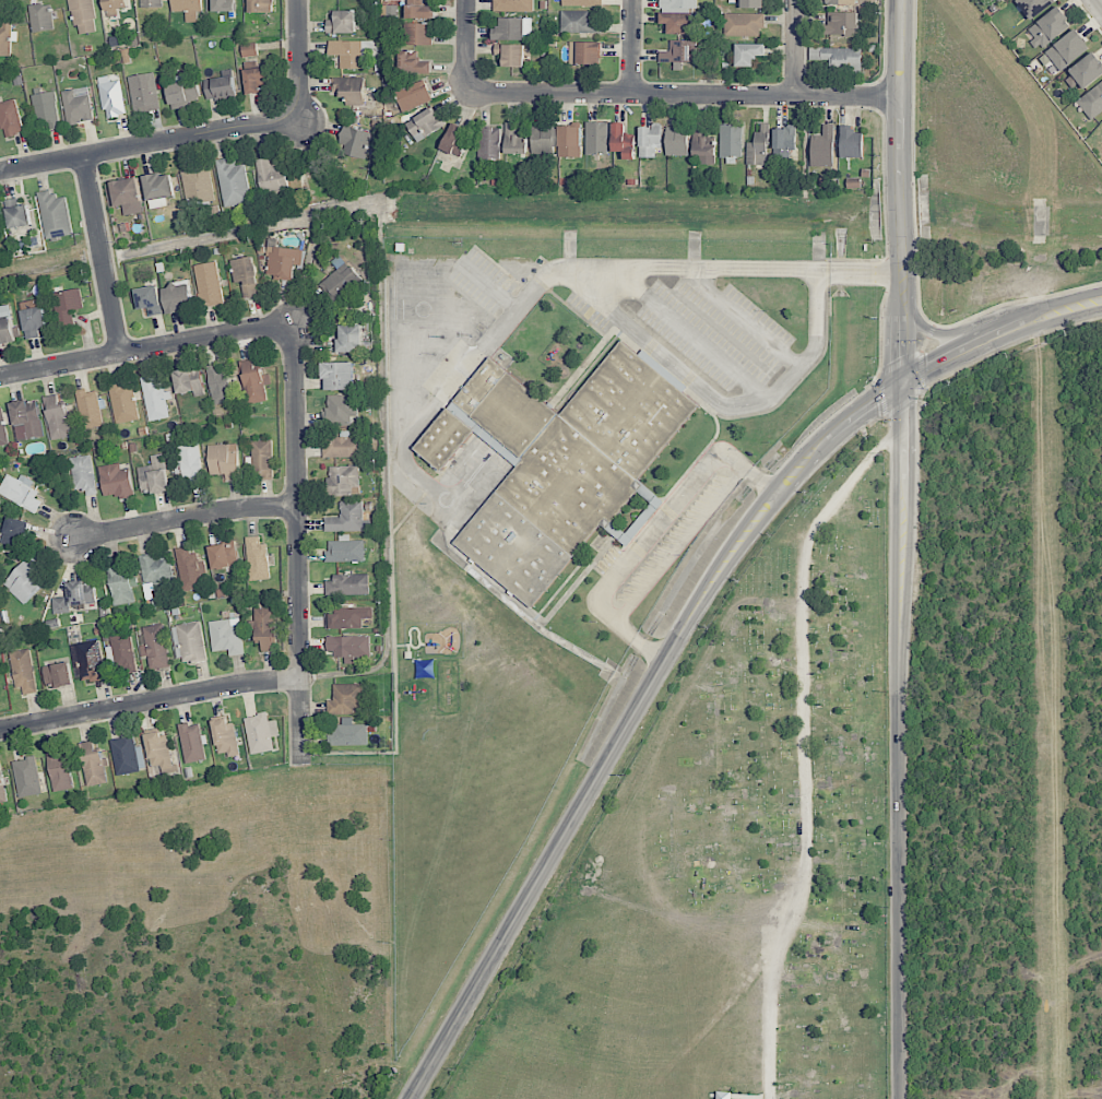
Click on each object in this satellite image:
building: (993, 0)
building: (581, 2)
building: (843, 2)
building: (151, 3)
building: (678, 3)
building: (753, 3)
building: (223, 5)
building: (260, 5)
building: (514, 5)
building: (115, 7)
building: (1033, 7)
road: (1095, 7)
building: (187, 8)
building: (420, 12)
building: (83, 16)
building: (42, 17)
building: (341, 22)
building: (676, 22)
building: (578, 23)
building: (743, 24)
building: (842, 24)
building: (1048, 27)
building: (513, 28)
building: (417, 34)
building: (5, 39)
road: (466, 47)
road: (632, 48)
building: (249, 49)
road: (796, 49)
building: (1067, 49)
building: (680, 51)
building: (584, 52)
building: (353, 54)
building: (511, 54)
building: (748, 54)
building: (839, 58)
road: (297, 61)
building: (412, 62)
building: (1085, 72)
building: (254, 79)
building: (220, 87)
building: (349, 88)
building: (143, 92)
building: (182, 94)
building: (413, 95)
road: (631, 96)
building: (110, 97)
road: (846, 98)
building: (1092, 102)
building: (78, 105)
building: (46, 108)
building: (10, 118)
building: (425, 123)
building: (596, 138)
building: (542, 139)
building: (453, 140)
building: (514, 140)
building: (676, 140)
building: (731, 140)
building: (354, 141)
building: (569, 141)
building: (623, 141)
building: (650, 141)
building: (784, 142)
building: (851, 142)
building: (489, 143)
road: (149, 144)
building: (703, 145)
building: (758, 146)
building: (822, 147)
road: (899, 147)
building: (271, 176)
building: (233, 182)
building: (197, 185)
building: (158, 189)
building: (127, 196)
building: (16, 213)
building: (54, 215)
road: (102, 256)
building: (283, 262)
road: (720, 268)
building: (246, 275)
building: (341, 282)
building: (209, 284)
road: (488, 286)
building: (178, 297)
building: (150, 302)
road: (816, 303)
building: (68, 306)
road: (740, 317)
road: (1039, 317)
building: (33, 318)
building: (5, 326)
road: (689, 332)
road: (931, 332)
building: (349, 338)
road: (145, 348)
road: (940, 361)
building: (337, 375)
road: (690, 379)
building: (189, 381)
building: (253, 381)
traffic signals: (905, 382)
building: (220, 385)
building: (155, 398)
road: (447, 399)
building: (123, 402)
building: (88, 409)
building: (341, 409)
building: (57, 417)
building: (26, 419)
building: (2, 428)
building: (341, 447)
building: (262, 458)
building: (224, 460)
building: (188, 461)
building: (557, 462)
building: (83, 474)
building: (153, 475)
building: (116, 481)
building: (343, 481)
building: (20, 492)
road: (654, 499)
road: (183, 518)
building: (348, 518)
building: (14, 532)
road: (648, 535)
road: (621, 537)
road: (679, 545)
road: (296, 547)
building: (345, 549)
building: (223, 555)
building: (257, 558)
building: (190, 569)
building: (156, 571)
building: (24, 581)
building: (119, 583)
building: (347, 584)
building: (74, 596)
road: (526, 608)
building: (348, 617)
building: (264, 628)
building: (226, 636)
building: (189, 640)
building: (155, 646)
building: (348, 646)
building: (121, 653)
road: (393, 659)
building: (87, 661)
building: (23, 671)
building: (57, 674)
road: (903, 697)
building: (347, 698)
road: (149, 701)
road: (630, 718)
building: (261, 733)
building: (349, 733)
building: (225, 736)
building: (192, 742)
road: (803, 751)
building: (159, 752)
building: (127, 755)
building: (93, 764)
building: (59, 772)
building: (26, 777)
building: (2, 788)
park: (733, 853)

